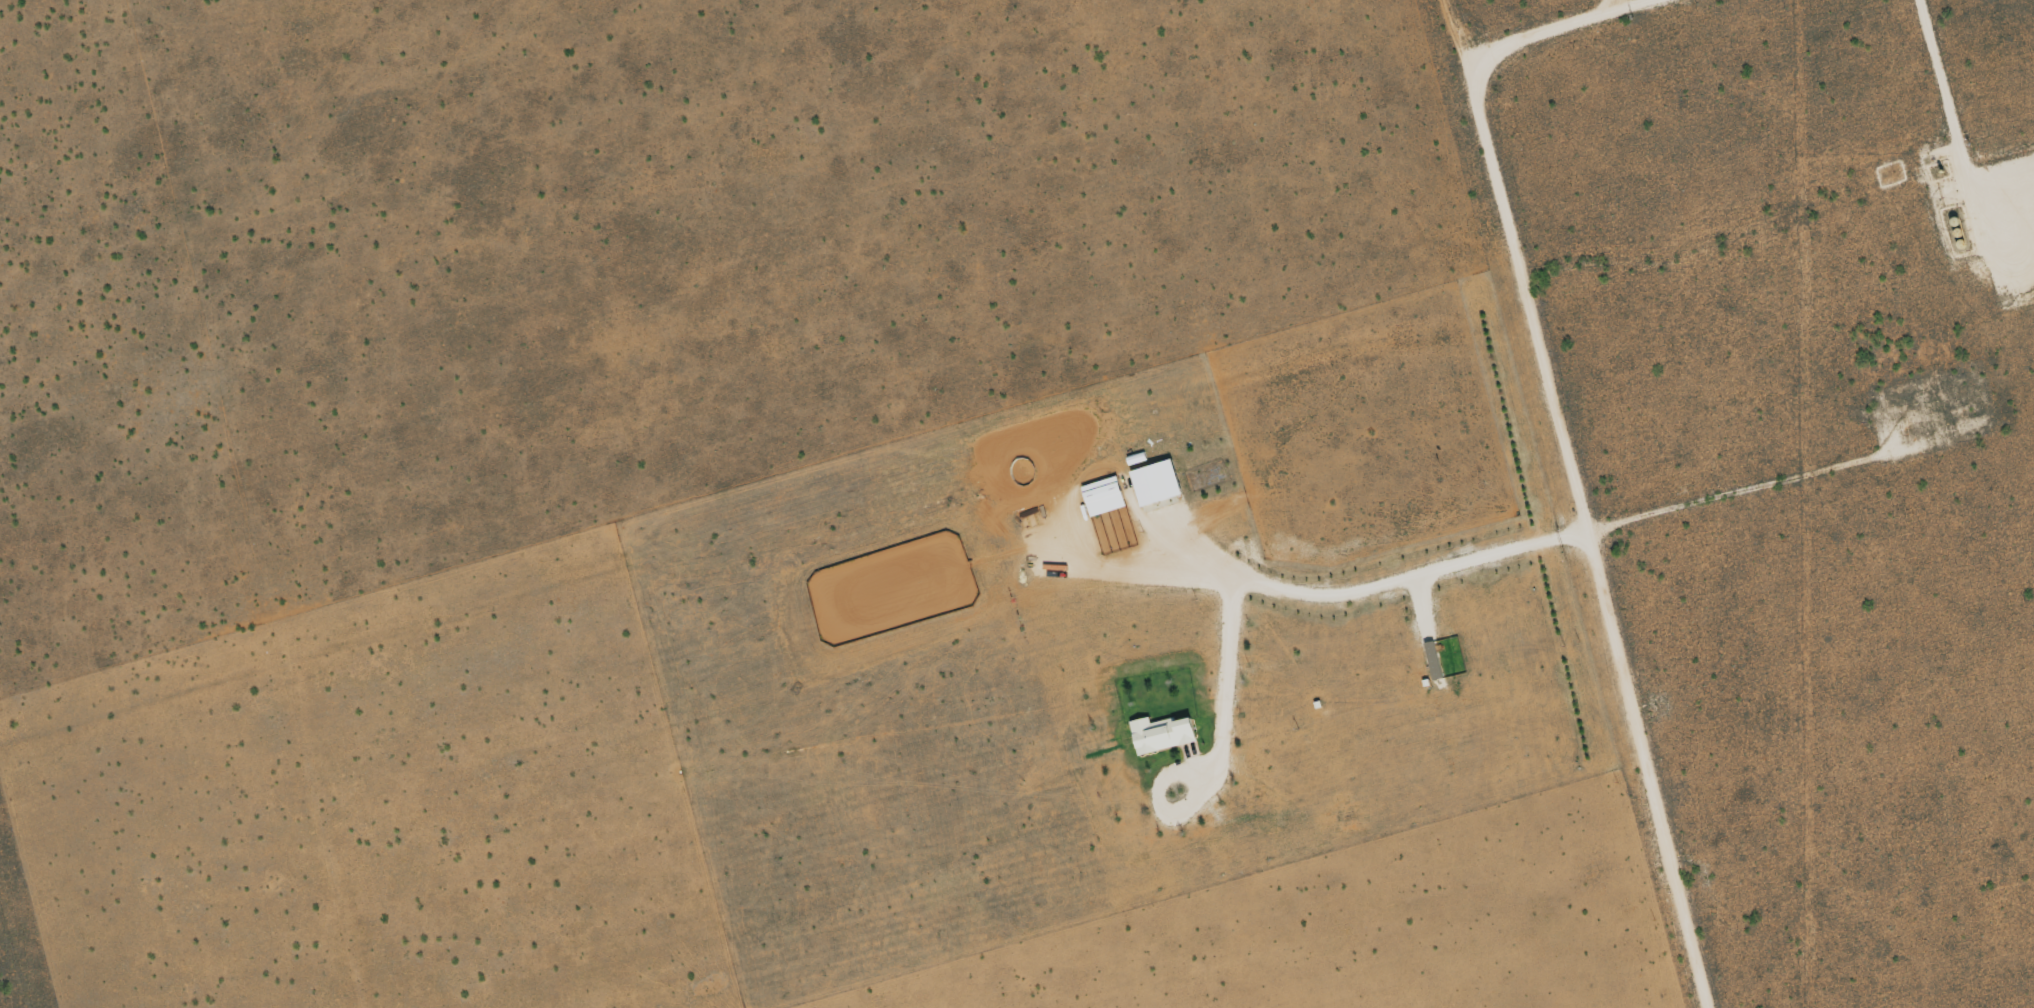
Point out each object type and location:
road: (1550, 353)
building: (1154, 481)
building: (1102, 495)
road: (1663, 829)

